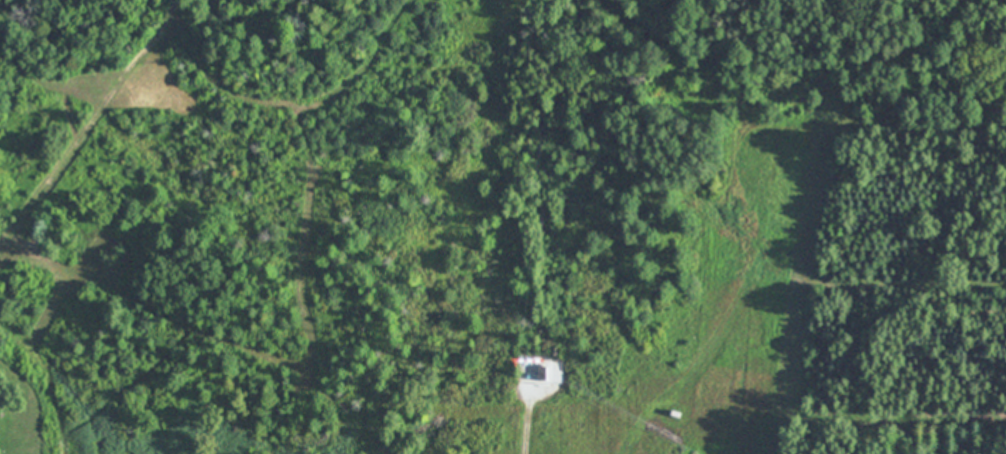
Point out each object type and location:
road: (528, 425)

